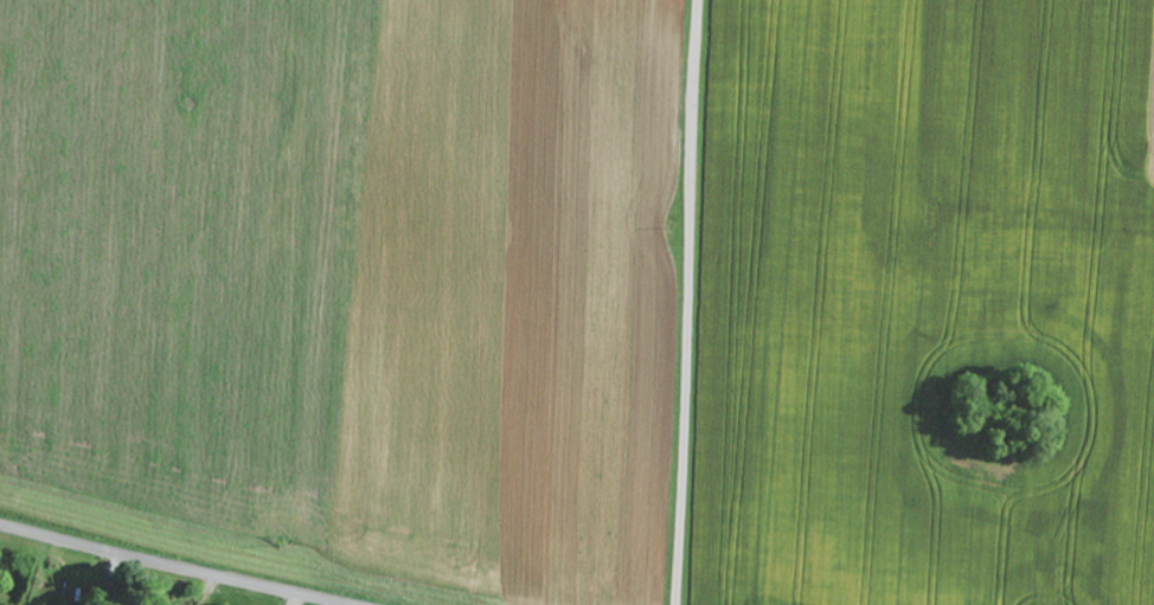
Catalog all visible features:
road: (685, 302)
road: (182, 564)

